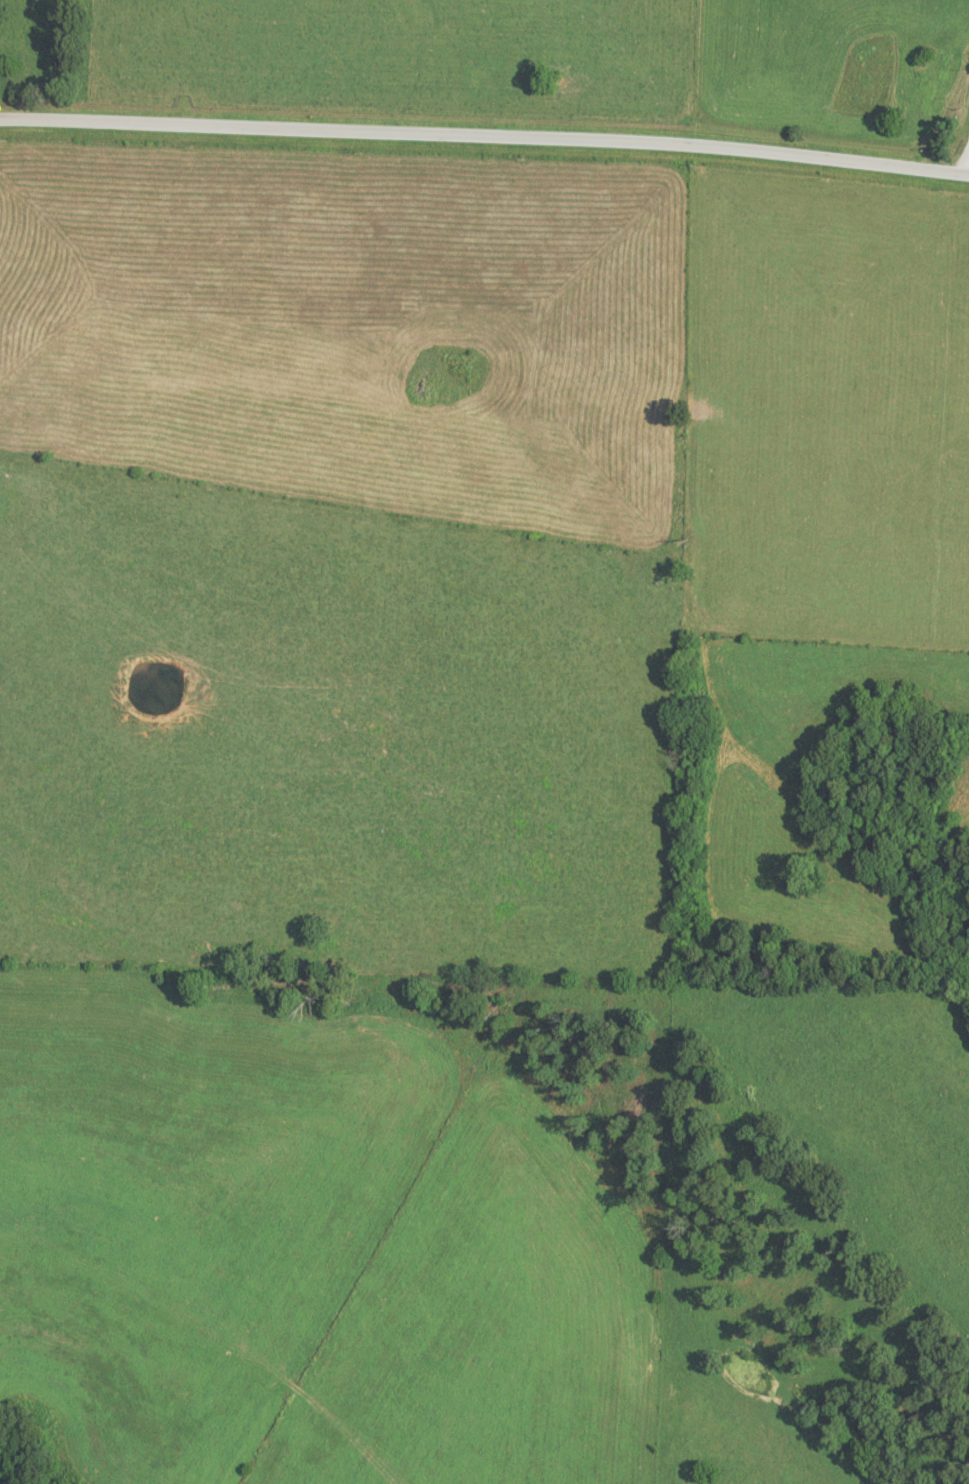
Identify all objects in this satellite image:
road: (485, 141)
road: (968, 166)
road: (959, 992)

